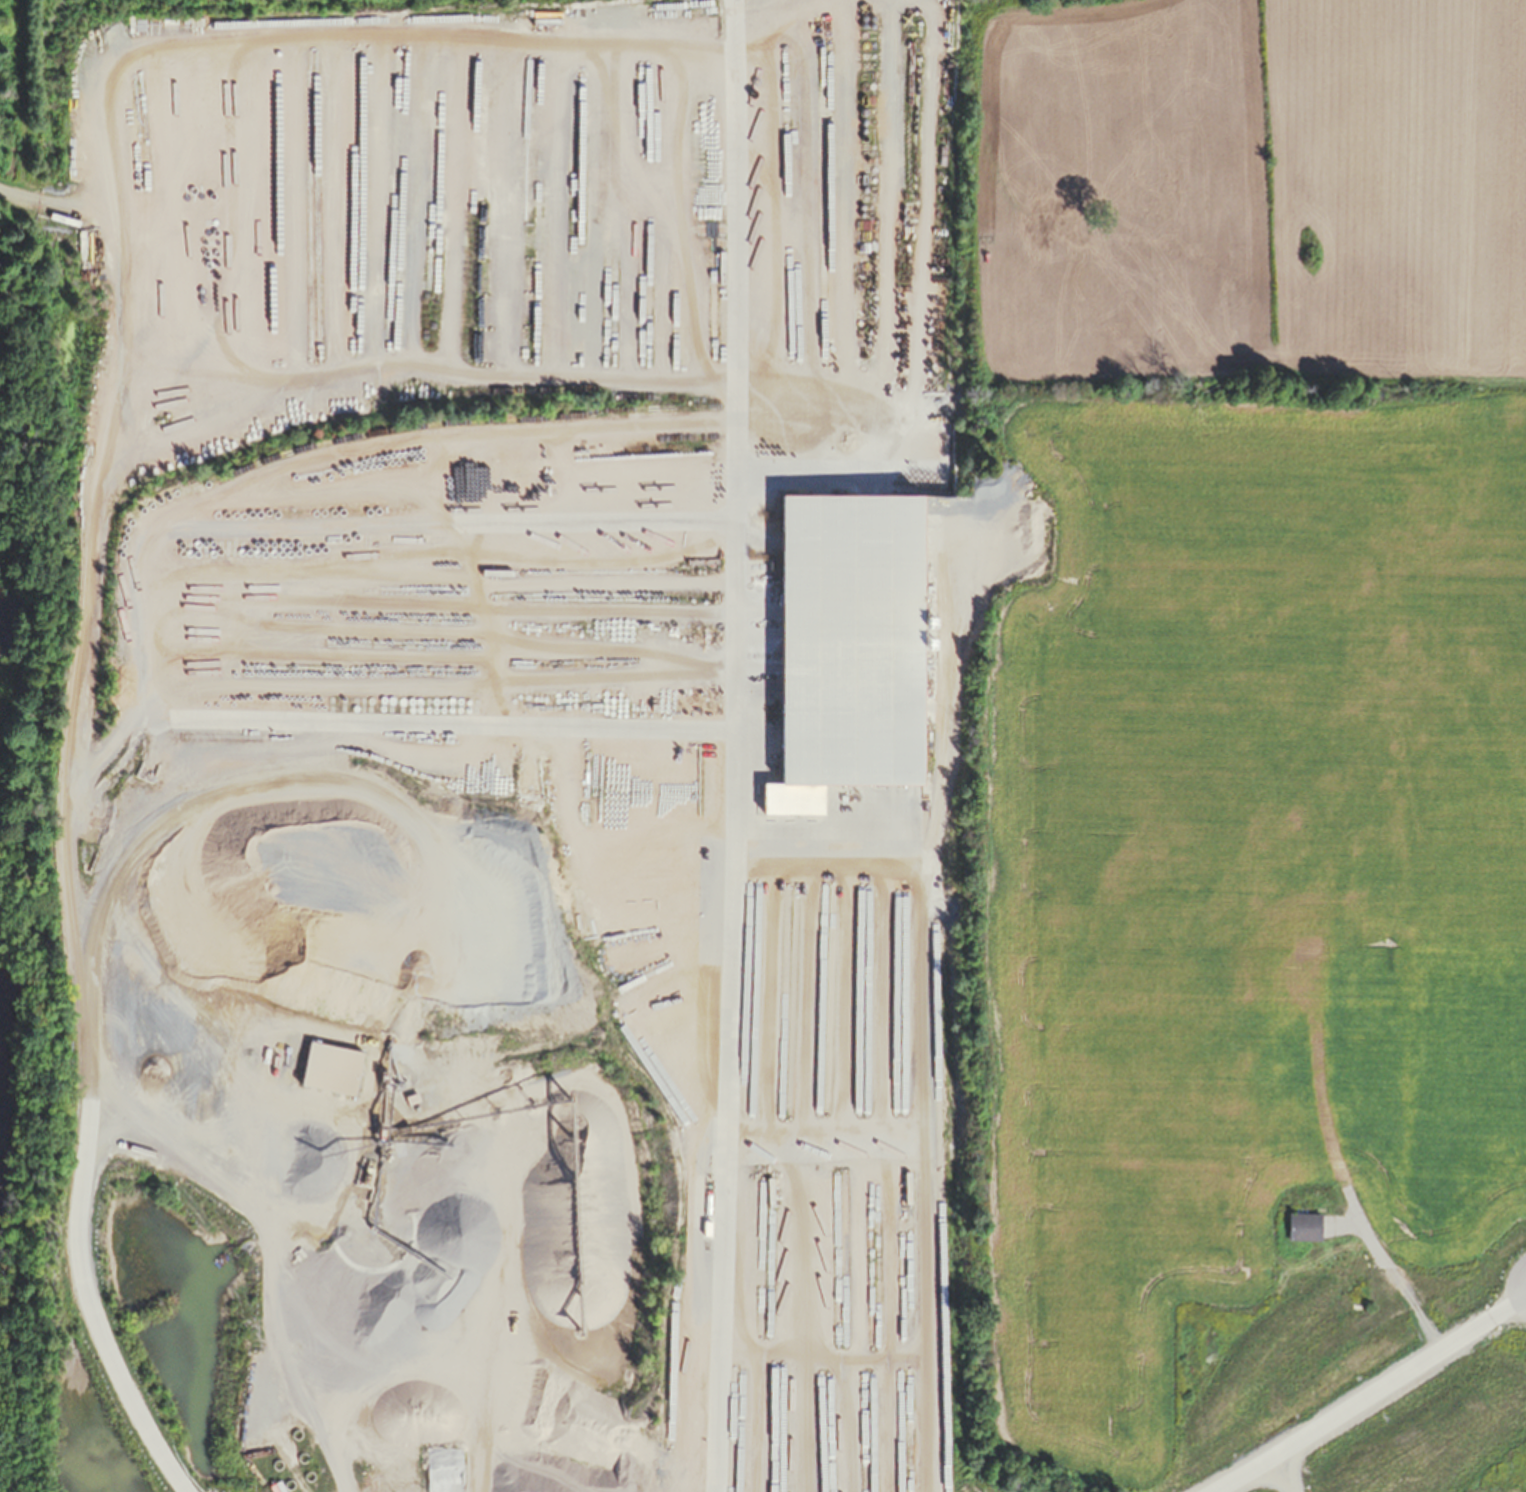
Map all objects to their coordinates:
building: (381, 124)
building: (79, 169)
building: (381, 310)
river: (13, 640)
building: (843, 646)
road: (945, 794)
road: (68, 804)
quarry: (717, 806)
road: (732, 910)
building: (1275, 938)
building: (329, 1069)
building: (1300, 1226)
road: (1392, 1273)
road: (1366, 1392)
building: (1328, 1398)
quarry: (17, 1416)
building: (450, 1476)

